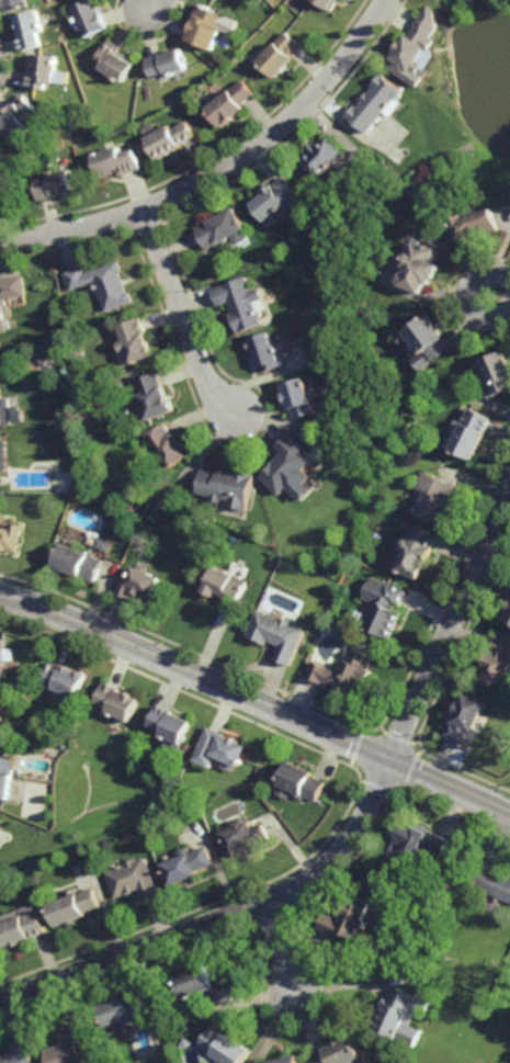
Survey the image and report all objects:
building: (329, 4)
building: (12, 5)
road: (146, 5)
building: (91, 20)
building: (209, 29)
building: (30, 32)
building: (415, 50)
building: (281, 57)
building: (116, 63)
building: (169, 65)
building: (42, 73)
building: (233, 105)
building: (377, 105)
building: (20, 121)
building: (172, 139)
building: (324, 158)
building: (117, 161)
road: (224, 169)
building: (57, 183)
building: (277, 199)
building: (478, 222)
building: (224, 228)
building: (422, 260)
building: (103, 284)
building: (10, 293)
road: (468, 297)
building: (241, 303)
road: (182, 317)
building: (54, 338)
building: (429, 340)
building: (136, 341)
building: (408, 344)
building: (265, 352)
building: (498, 372)
building: (150, 398)
building: (301, 398)
building: (1, 410)
building: (471, 433)
building: (168, 446)
building: (3, 456)
building: (288, 466)
building: (228, 486)
building: (435, 498)
building: (10, 538)
building: (418, 552)
building: (77, 563)
building: (137, 585)
building: (225, 586)
building: (327, 604)
building: (382, 608)
building: (509, 620)
building: (276, 633)
building: (4, 656)
building: (499, 664)
building: (345, 672)
road: (196, 676)
building: (65, 680)
building: (118, 702)
building: (0, 714)
building: (467, 722)
building: (170, 725)
building: (4, 727)
building: (219, 750)
building: (5, 778)
building: (301, 783)
road: (451, 787)
building: (0, 830)
building: (242, 837)
road: (348, 843)
building: (418, 845)
building: (186, 866)
building: (132, 879)
building: (495, 883)
building: (73, 905)
building: (348, 919)
building: (20, 925)
building: (456, 927)
road: (281, 948)
building: (207, 982)
building: (126, 1008)
building: (401, 1016)
building: (225, 1047)
building: (78, 1050)
building: (342, 1051)
building: (19, 1053)
building: (288, 1059)

